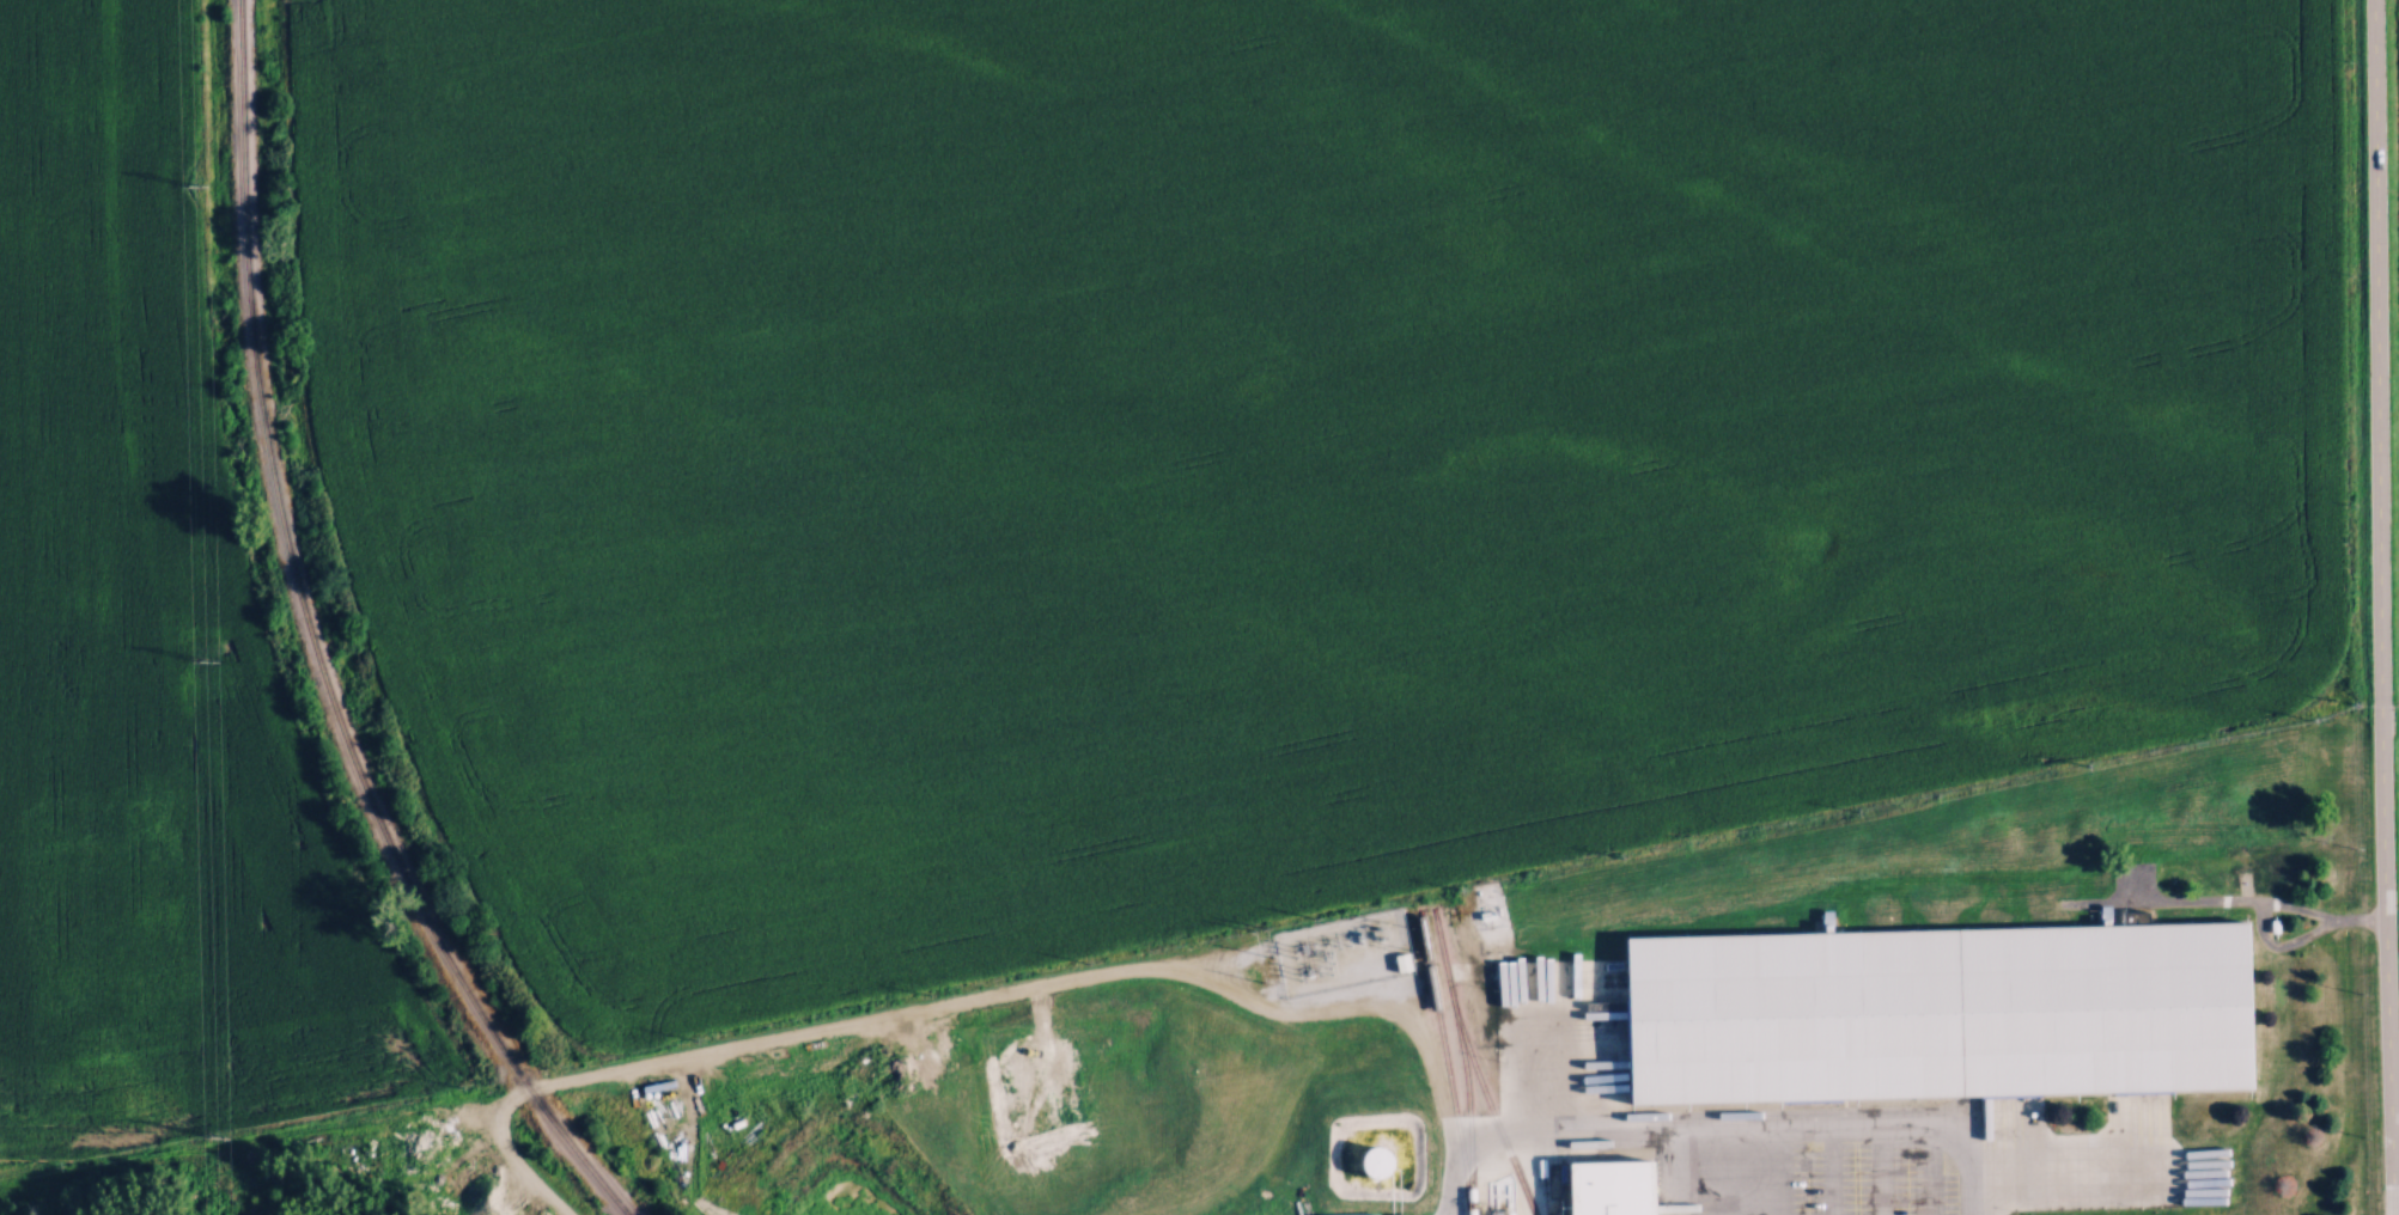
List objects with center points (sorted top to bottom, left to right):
power tower: (206, 183)
road: (2377, 393)
railway: (312, 646)
power tower: (217, 658)
power substation: (1344, 948)
road: (988, 997)
road: (2387, 1001)
building: (1935, 1012)
railway: (1447, 1061)
railway: (1474, 1063)
railway: (1467, 1093)
road: (1749, 1128)
power tower: (218, 1137)
building: (1371, 1161)
road: (1828, 1171)
road: (2059, 1172)
building: (1608, 1186)

